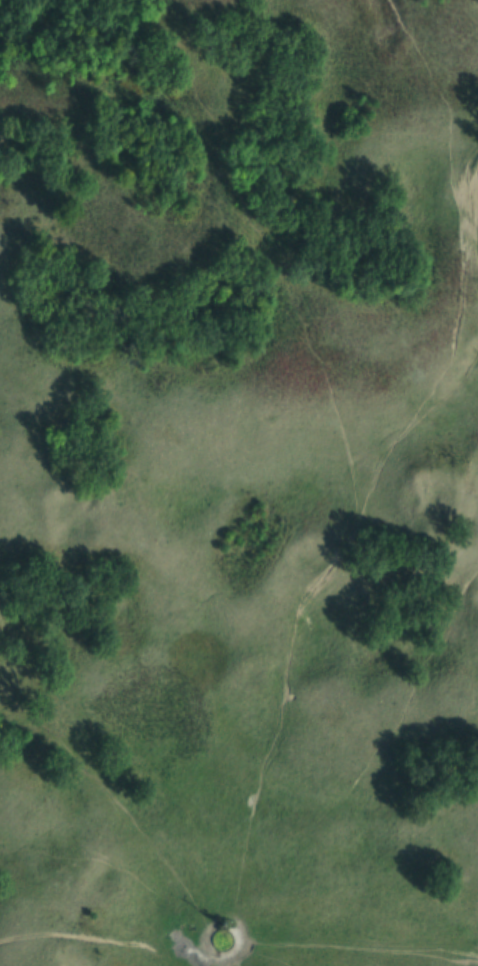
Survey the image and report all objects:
road: (238, 957)

